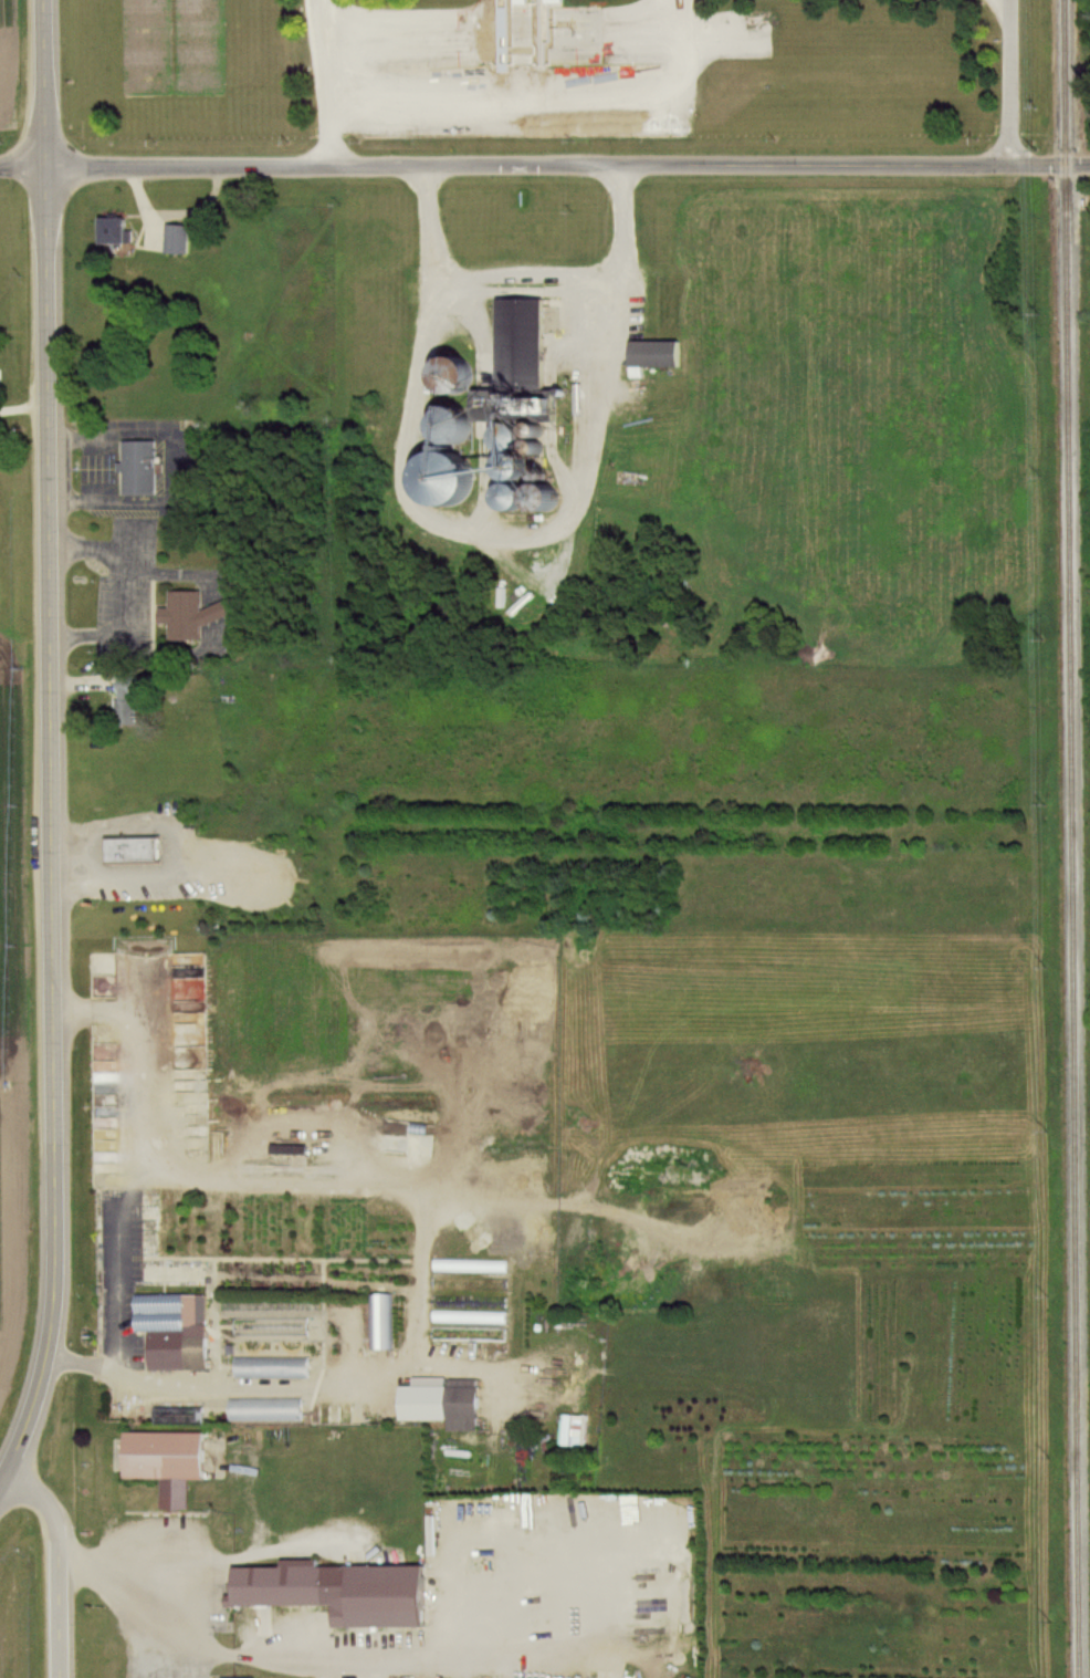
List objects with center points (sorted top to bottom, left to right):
building: (516, 2)
crop: (10, 67)
road: (331, 81)
road: (538, 81)
road: (43, 82)
road: (1009, 82)
road: (544, 164)
building: (122, 231)
building: (179, 239)
road: (520, 274)
building: (526, 343)
building: (660, 355)
building: (142, 469)
building: (0, 523)
building: (0, 593)
road: (120, 593)
building: (195, 616)
building: (126, 701)
road: (50, 828)
railway: (1069, 838)
building: (137, 853)
crop: (13, 1031)
road: (128, 1051)
building: (293, 1150)
road: (419, 1217)
building: (381, 1323)
building: (178, 1331)
building: (274, 1368)
building: (447, 1404)
building: (269, 1410)
building: (172, 1465)
road: (59, 1564)
building: (349, 1594)
road: (133, 1597)
road: (324, 1657)

